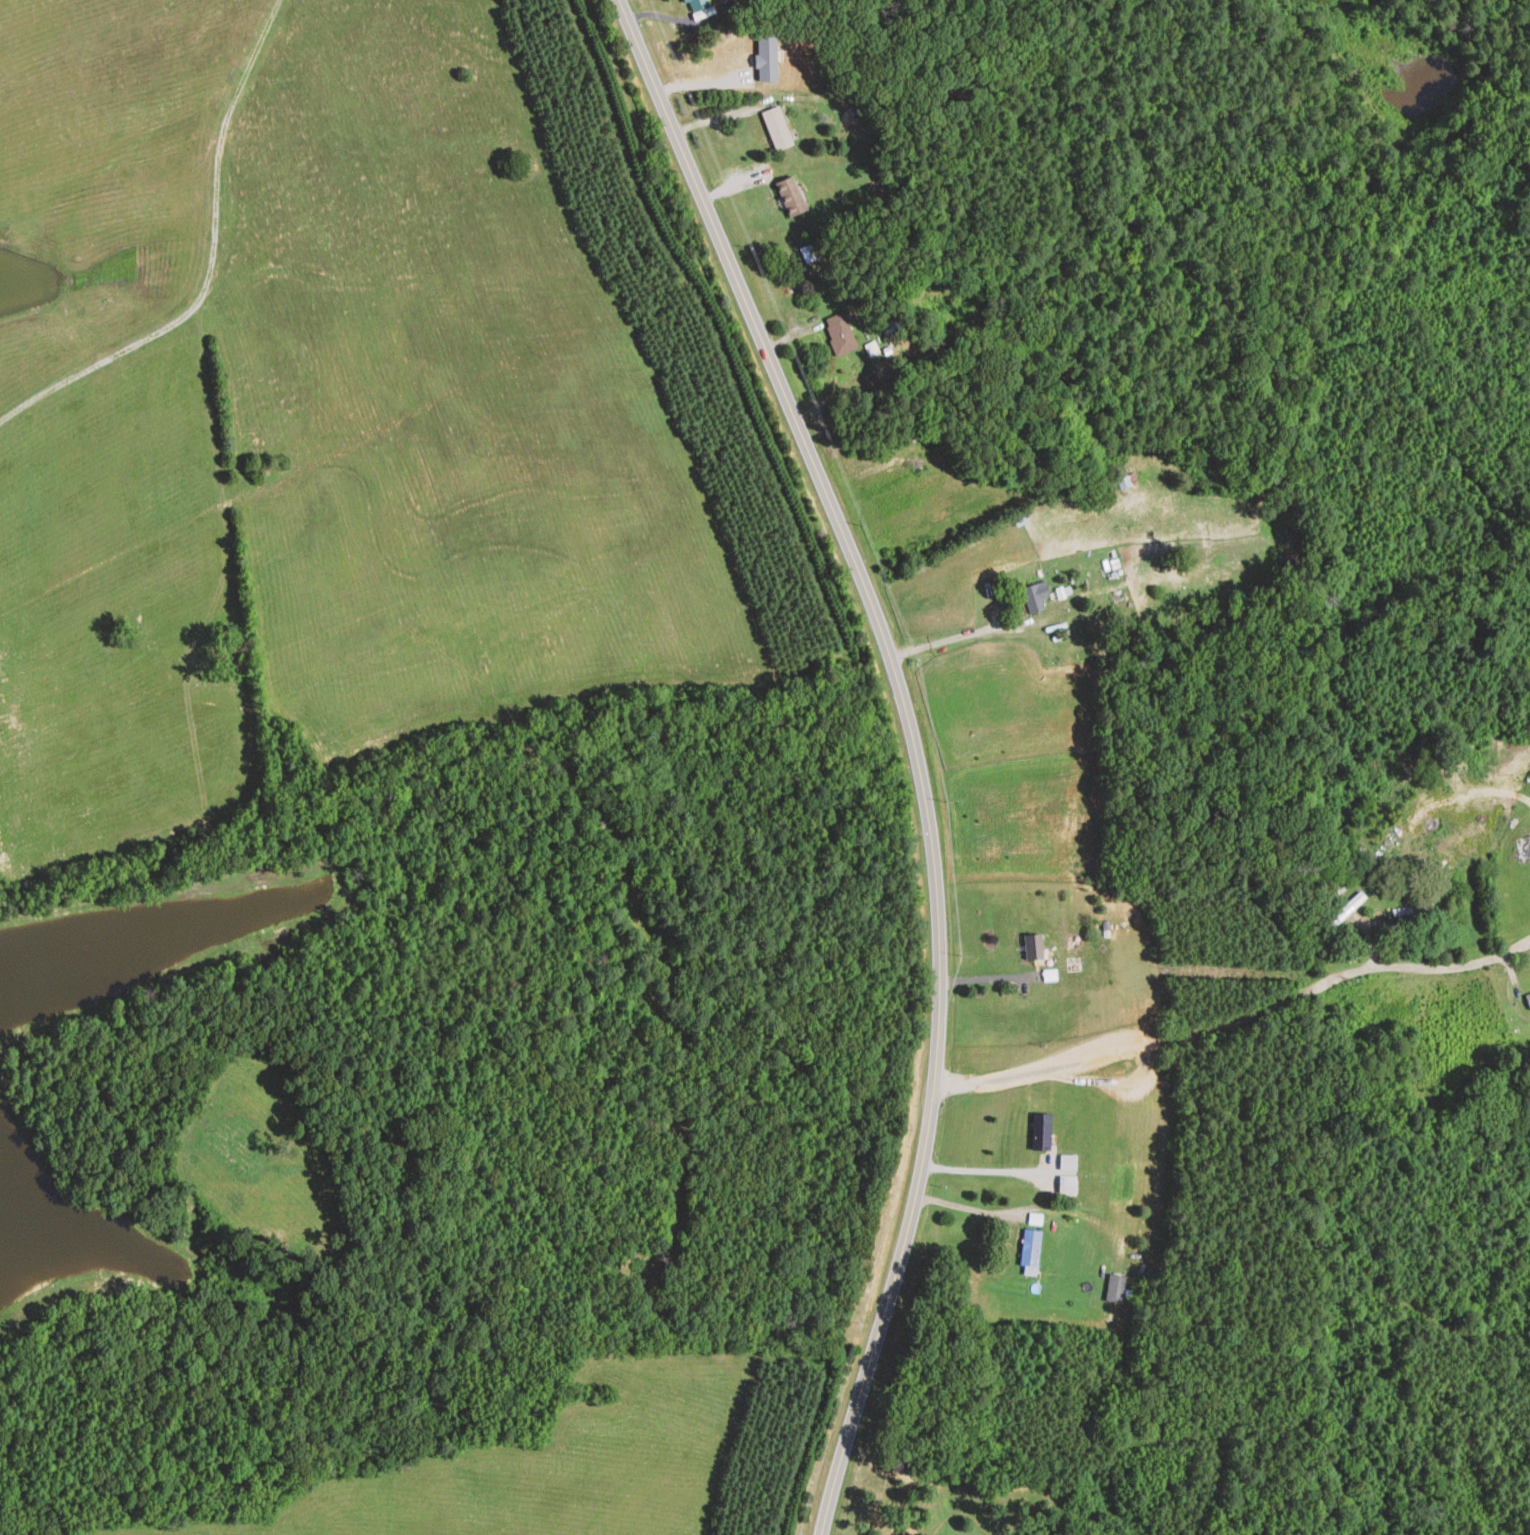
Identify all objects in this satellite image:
building: (698, 5)
building: (777, 129)
building: (790, 197)
road: (899, 222)
building: (811, 253)
building: (941, 310)
building: (839, 335)
building: (1127, 482)
building: (1105, 571)
building: (1035, 598)
road: (925, 747)
building: (1523, 849)
building: (1412, 911)
building: (1345, 913)
building: (1034, 948)
road: (987, 972)
building: (1528, 1000)
road: (1235, 1006)
building: (1345, 1027)
building: (1041, 1134)
road: (982, 1170)
building: (1067, 1186)
building: (1030, 1253)
building: (1116, 1288)

